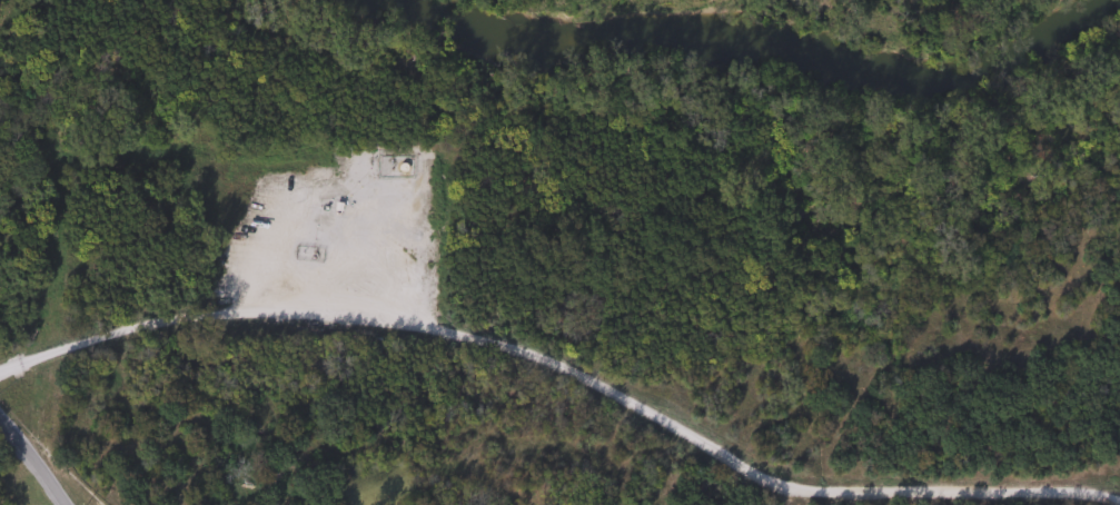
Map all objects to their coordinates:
river: (753, 37)
building: (390, 166)
road: (211, 313)
road: (30, 465)

